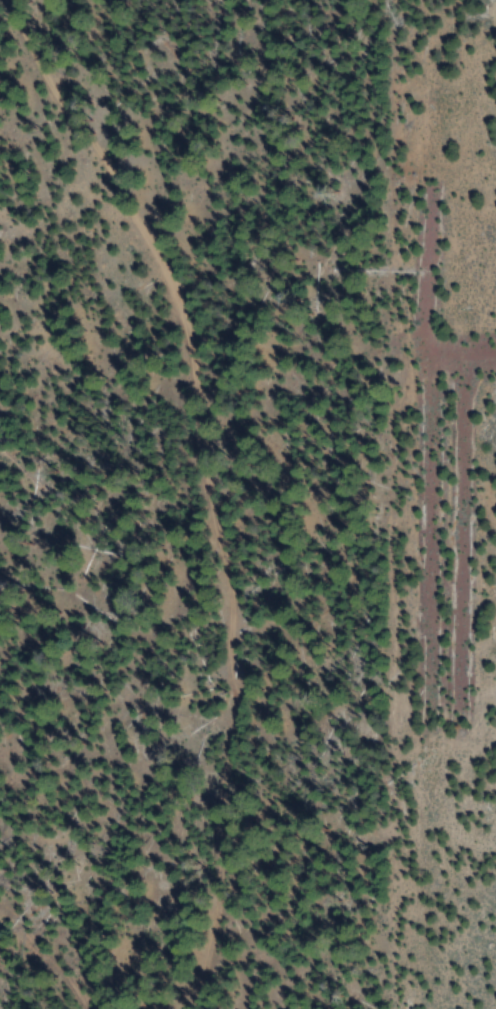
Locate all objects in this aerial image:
road: (212, 498)
road: (87, 861)

